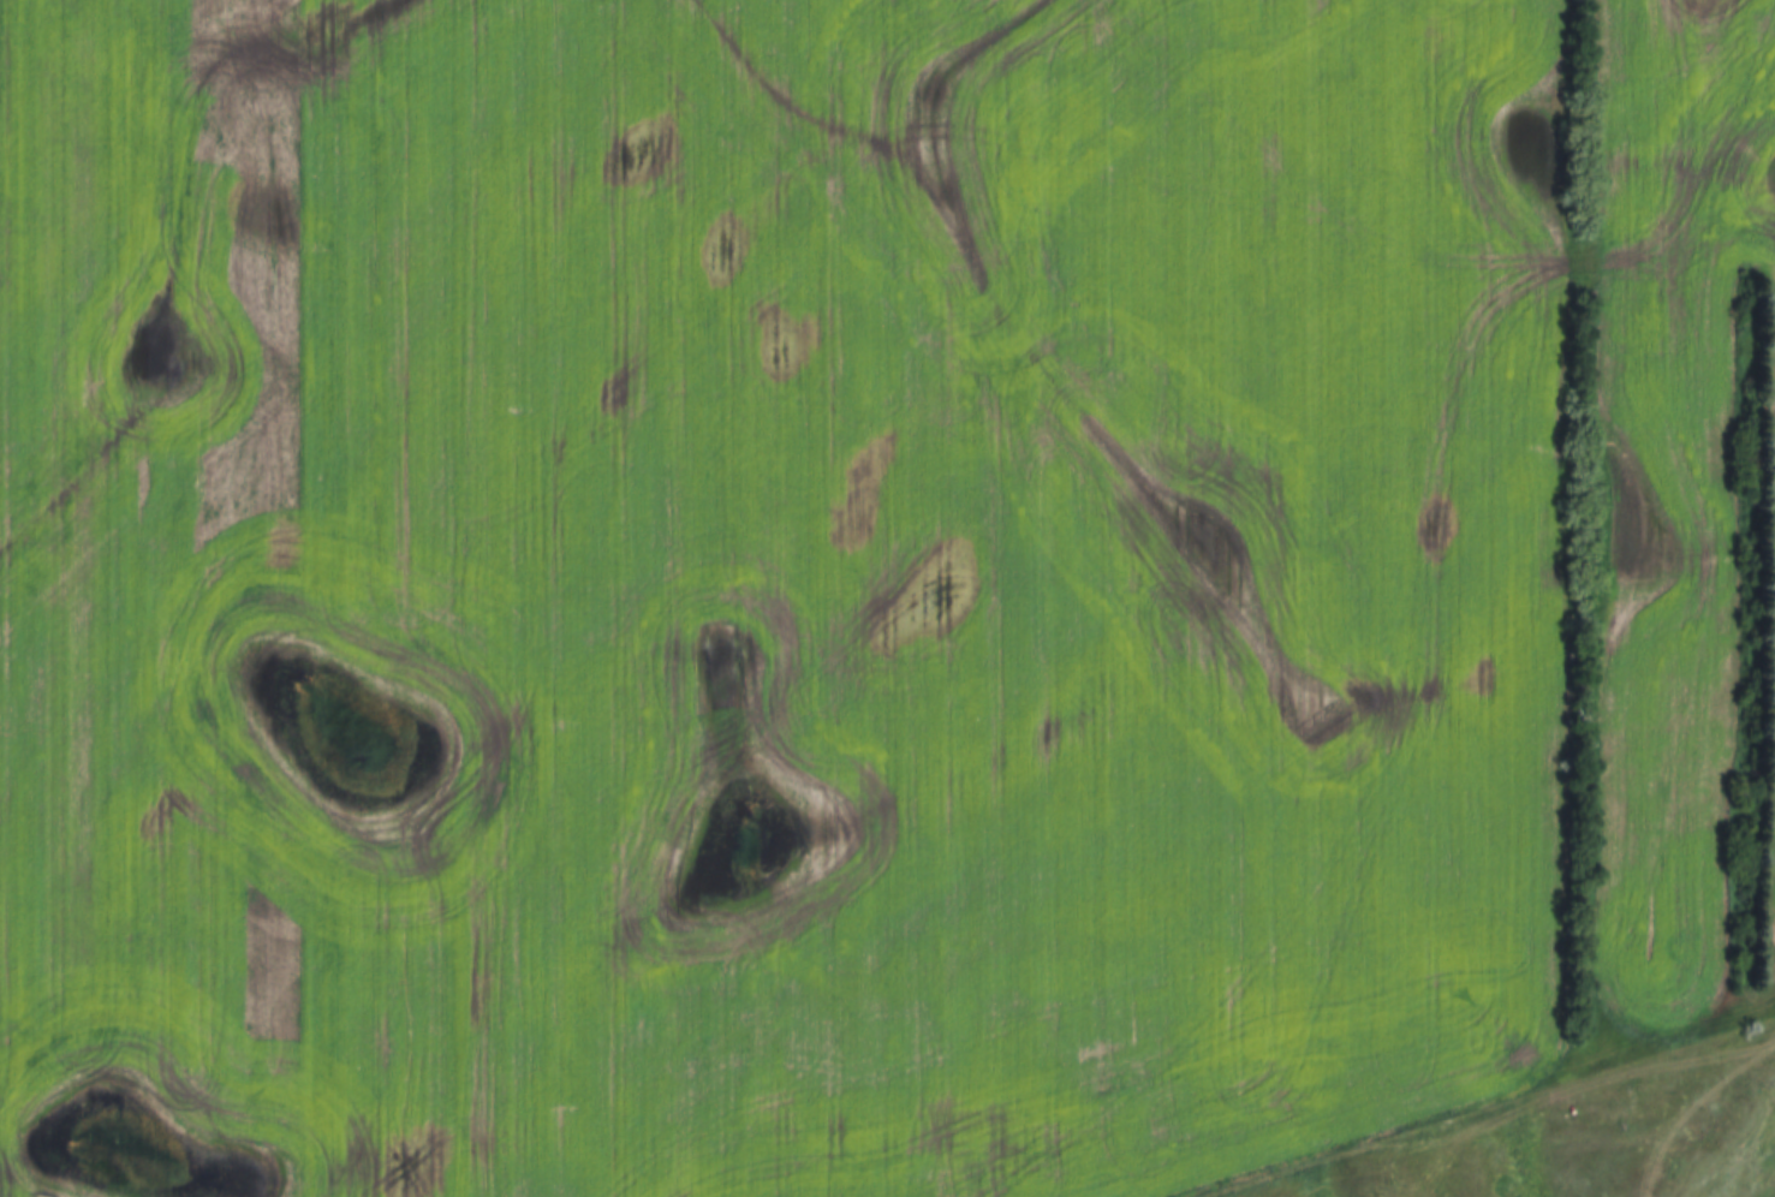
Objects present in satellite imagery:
road: (1721, 1149)

